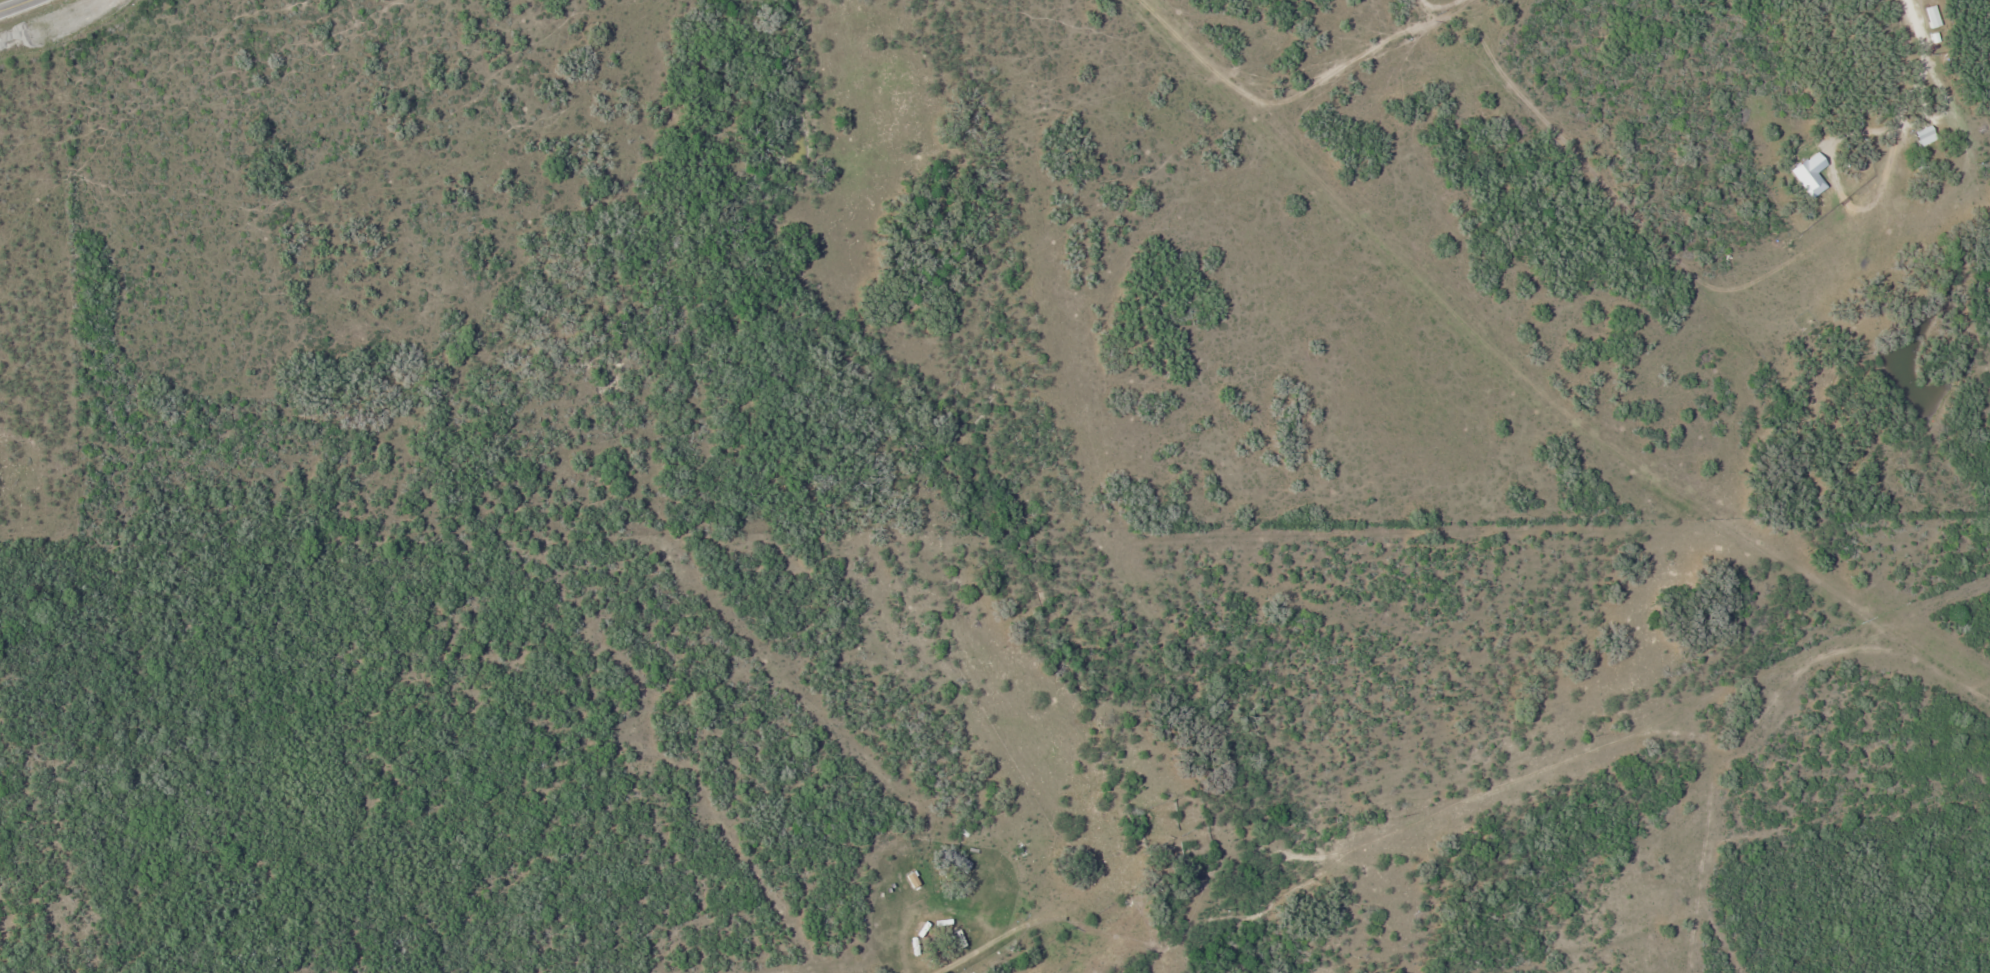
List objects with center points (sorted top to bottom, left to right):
road: (17, 4)

